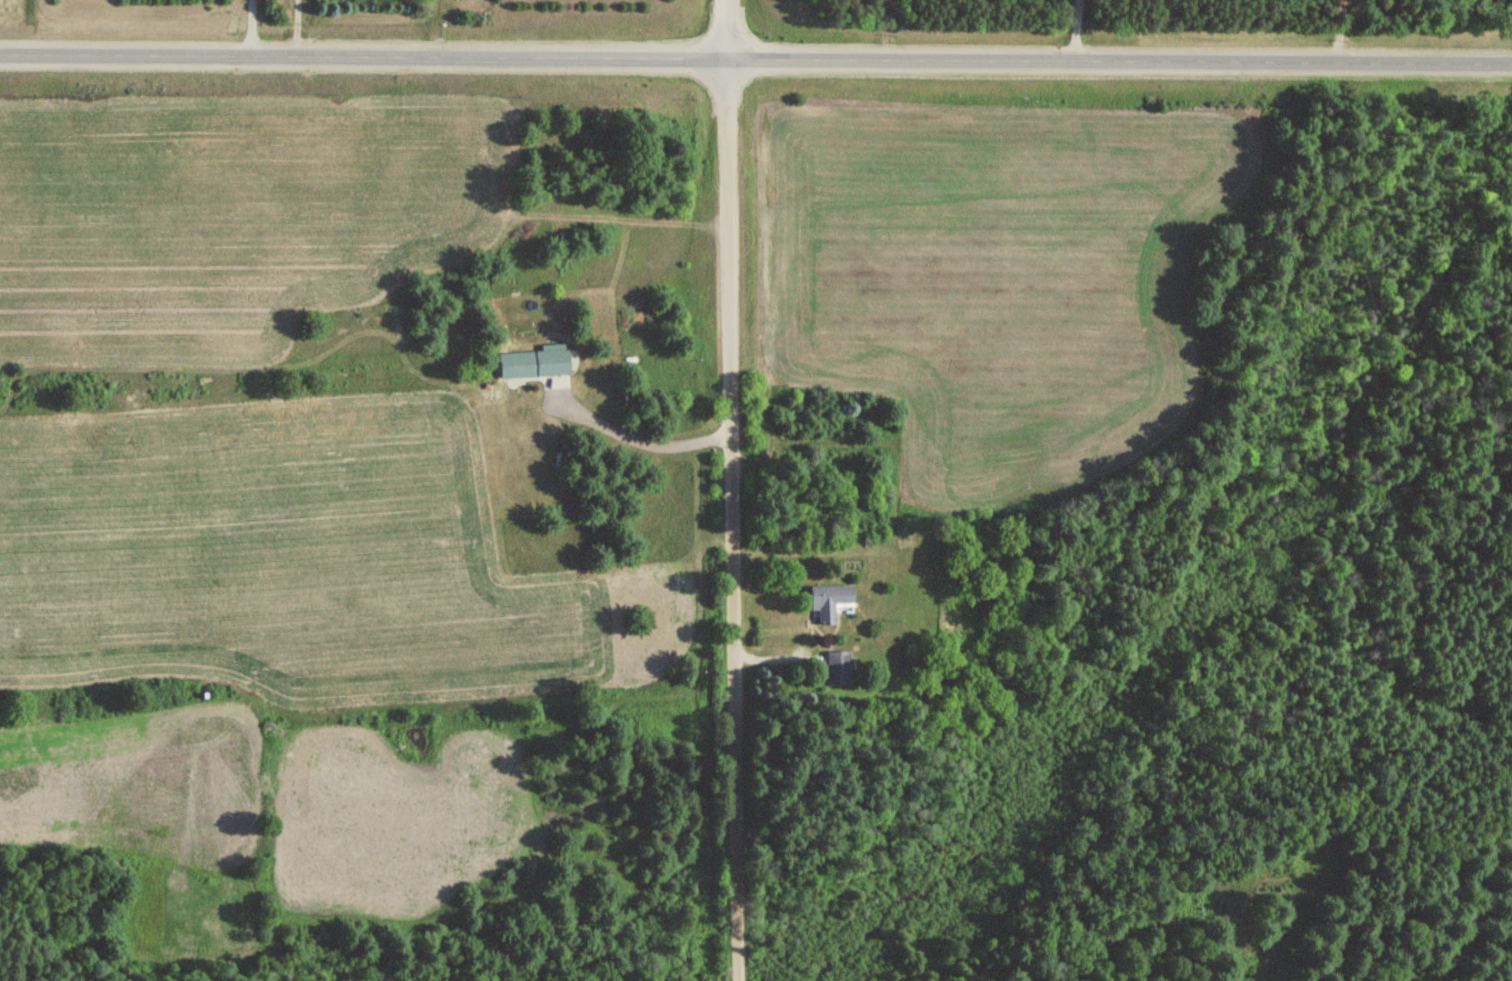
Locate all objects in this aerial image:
road: (756, 56)
road: (729, 490)
building: (826, 601)
building: (837, 669)

